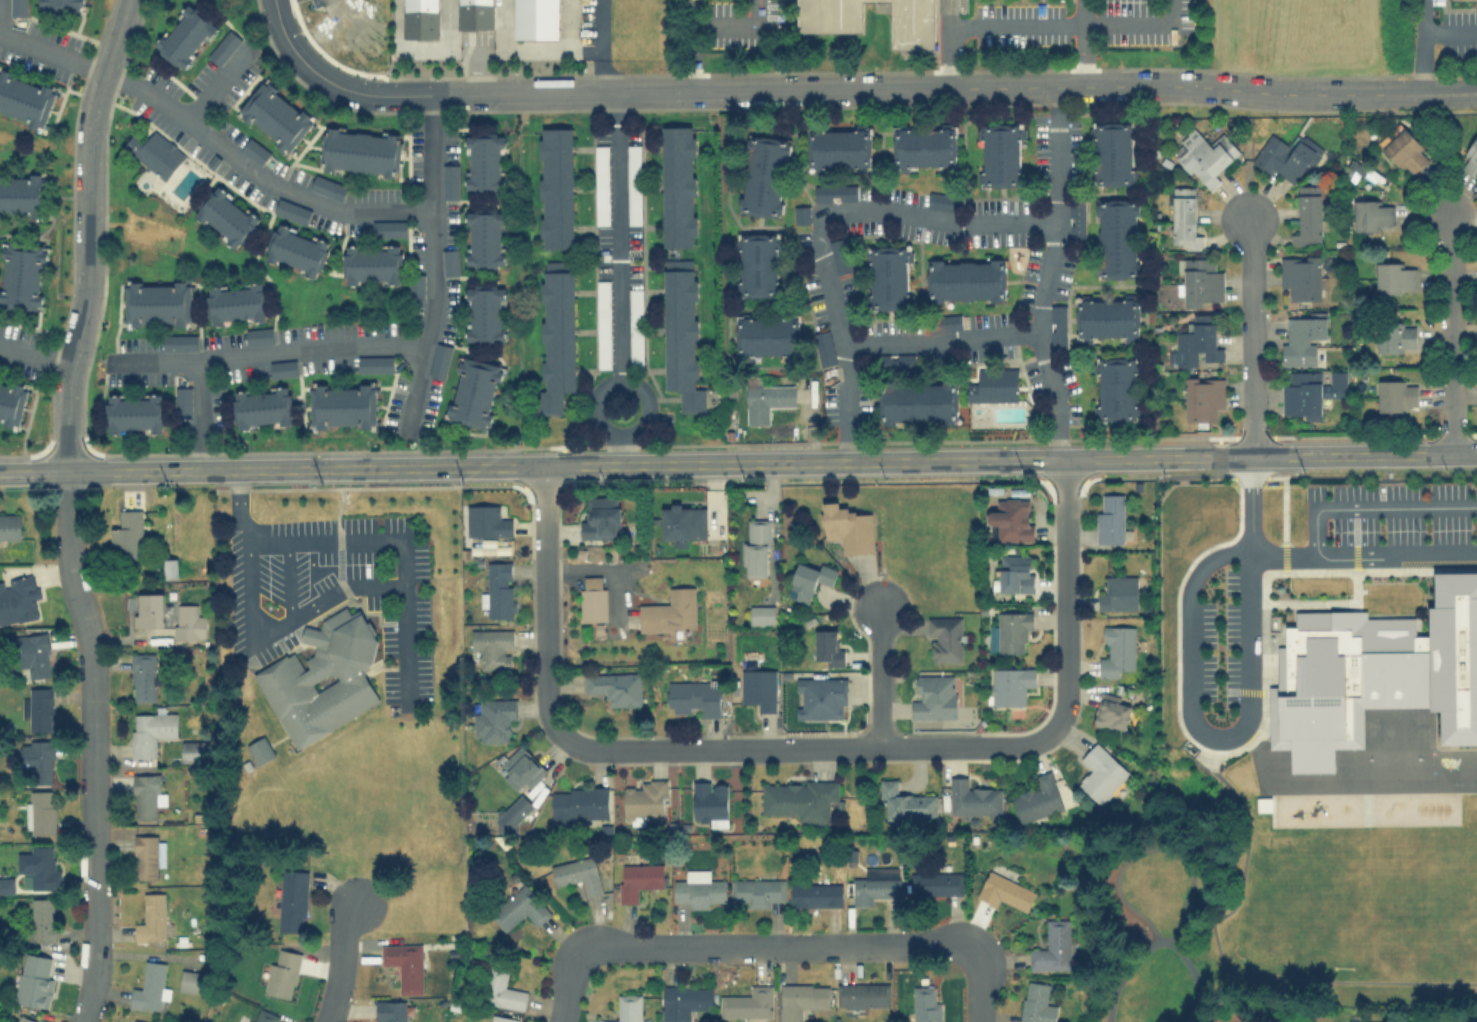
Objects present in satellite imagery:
building: (60, 6)
building: (18, 8)
road: (946, 13)
building: (475, 14)
road: (0, 16)
building: (828, 16)
building: (421, 19)
building: (535, 19)
parking lot: (1084, 22)
road: (735, 23)
parking lot: (739, 23)
road: (449, 24)
building: (911, 24)
road: (1038, 25)
road: (1450, 32)
building: (183, 36)
road: (1082, 43)
road: (691, 46)
building: (224, 47)
road: (600, 47)
road: (1423, 47)
road: (449, 48)
road: (559, 48)
road: (477, 72)
road: (218, 83)
road: (849, 90)
building: (26, 99)
building: (275, 115)
road: (211, 139)
building: (924, 147)
building: (838, 148)
building: (255, 150)
building: (360, 151)
building: (1405, 151)
building: (155, 152)
building: (1112, 152)
building: (1000, 154)
building: (1202, 155)
building: (1284, 157)
building: (1470, 157)
building: (483, 161)
building: (763, 175)
building: (450, 181)
building: (601, 184)
building: (633, 184)
building: (678, 186)
building: (329, 187)
building: (555, 187)
building: (835, 192)
building: (23, 195)
building: (942, 200)
road: (1056, 209)
building: (291, 210)
building: (1308, 212)
building: (801, 213)
building: (1372, 214)
building: (226, 217)
building: (1183, 218)
road: (819, 219)
building: (1075, 219)
road: (431, 221)
building: (388, 228)
road: (88, 233)
road: (619, 236)
building: (484, 238)
building: (1116, 238)
building: (297, 250)
building: (838, 255)
building: (450, 261)
building: (371, 264)
building: (759, 264)
building: (22, 275)
building: (1300, 276)
building: (889, 277)
building: (1394, 277)
building: (966, 280)
building: (1199, 281)
building: (415, 285)
building: (157, 303)
building: (235, 303)
building: (485, 314)
building: (1107, 317)
building: (944, 322)
building: (603, 324)
building: (1058, 325)
building: (635, 326)
building: (681, 332)
building: (556, 334)
road: (1006, 334)
building: (258, 335)
building: (766, 335)
road: (1447, 335)
road: (1252, 336)
building: (1395, 336)
building: (1302, 339)
building: (179, 342)
building: (1197, 342)
building: (823, 347)
road: (265, 354)
road: (36, 355)
building: (439, 360)
building: (902, 361)
building: (374, 364)
building: (282, 368)
building: (993, 384)
building: (1116, 388)
road: (415, 389)
building: (473, 392)
building: (1310, 392)
building: (1396, 394)
building: (1202, 397)
building: (183, 399)
building: (766, 400)
building: (12, 402)
building: (918, 402)
road: (647, 404)
building: (342, 405)
building: (262, 407)
building: (134, 412)
road: (199, 416)
road: (621, 448)
road: (849, 461)
road: (144, 469)
road: (34, 471)
road: (242, 507)
road: (1374, 507)
parking lot: (1389, 515)
building: (600, 517)
building: (486, 520)
building: (682, 521)
building: (1010, 521)
building: (1111, 521)
building: (9, 526)
building: (847, 527)
building: (127, 534)
road: (352, 541)
building: (758, 547)
road: (1363, 552)
building: (170, 567)
road: (600, 568)
building: (1014, 573)
building: (808, 578)
road: (401, 587)
building: (498, 589)
building: (1117, 592)
road: (1064, 595)
building: (592, 598)
building: (19, 599)
road: (544, 604)
building: (148, 609)
building: (669, 611)
building: (761, 614)
building: (188, 622)
road: (273, 629)
building: (1010, 632)
building: (945, 638)
parking lot: (1219, 646)
building: (493, 647)
building: (827, 647)
building: (1116, 650)
building: (32, 655)
building: (1375, 673)
building: (143, 676)
building: (286, 677)
road: (877, 679)
building: (1010, 684)
building: (615, 686)
building: (759, 688)
building: (934, 696)
building: (693, 697)
building: (820, 697)
building: (39, 708)
building: (1111, 711)
building: (493, 719)
road: (1245, 725)
building: (150, 731)
road: (94, 745)
road: (808, 749)
building: (194, 750)
building: (259, 750)
building: (37, 758)
building: (520, 768)
building: (1100, 773)
building: (146, 795)
building: (972, 798)
building: (1037, 798)
building: (799, 799)
building: (645, 801)
building: (906, 802)
building: (579, 803)
building: (709, 803)
building: (1264, 803)
building: (39, 812)
building: (513, 813)
road: (1151, 846)
building: (148, 855)
building: (38, 868)
building: (577, 874)
building: (637, 879)
building: (6, 884)
building: (937, 885)
building: (698, 889)
building: (872, 889)
building: (1004, 891)
building: (757, 892)
building: (816, 894)
building: (292, 899)
building: (521, 906)
park: (1356, 909)
park: (1469, 911)
building: (152, 918)
building: (42, 919)
road: (1199, 924)
park: (1155, 928)
street lamp: (1150, 935)
road: (1159, 940)
building: (1053, 946)
road: (779, 947)
road: (1223, 963)
road: (338, 964)
building: (404, 965)
building: (281, 972)
building: (34, 980)
building: (192, 981)
road: (570, 985)
building: (150, 987)
road: (977, 987)
building: (500, 988)
building: (862, 995)
building: (801, 999)
building: (684, 1000)
building: (748, 1003)
building: (1036, 1003)
building: (926, 1004)
building: (627, 1008)
building: (390, 1011)
building: (266, 1016)
building: (23, 1018)
building: (501, 1018)
building: (136, 1020)
building: (1297, 1021)
building: (1367, 1021)

